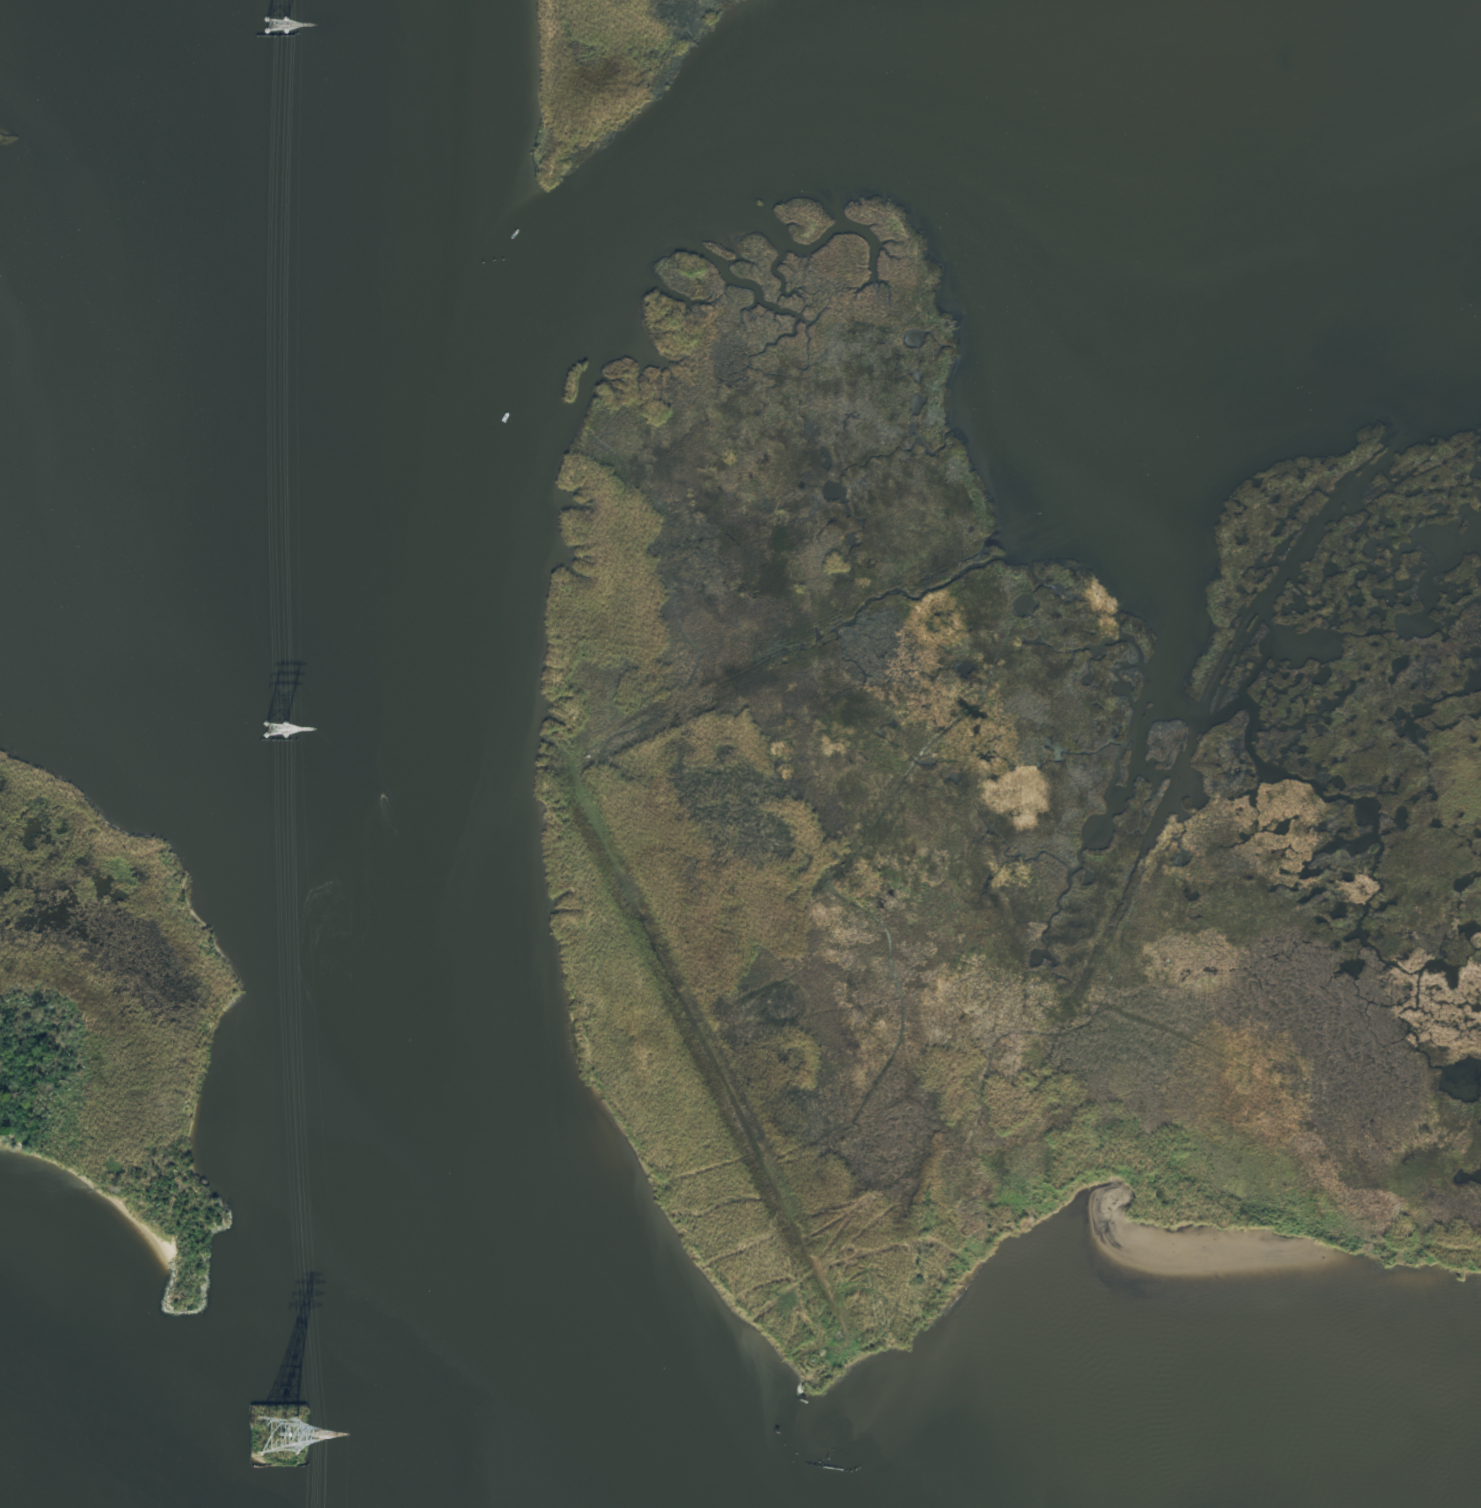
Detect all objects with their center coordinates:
power tower: (275, 25)
power tower: (276, 729)
power tower: (276, 1438)

